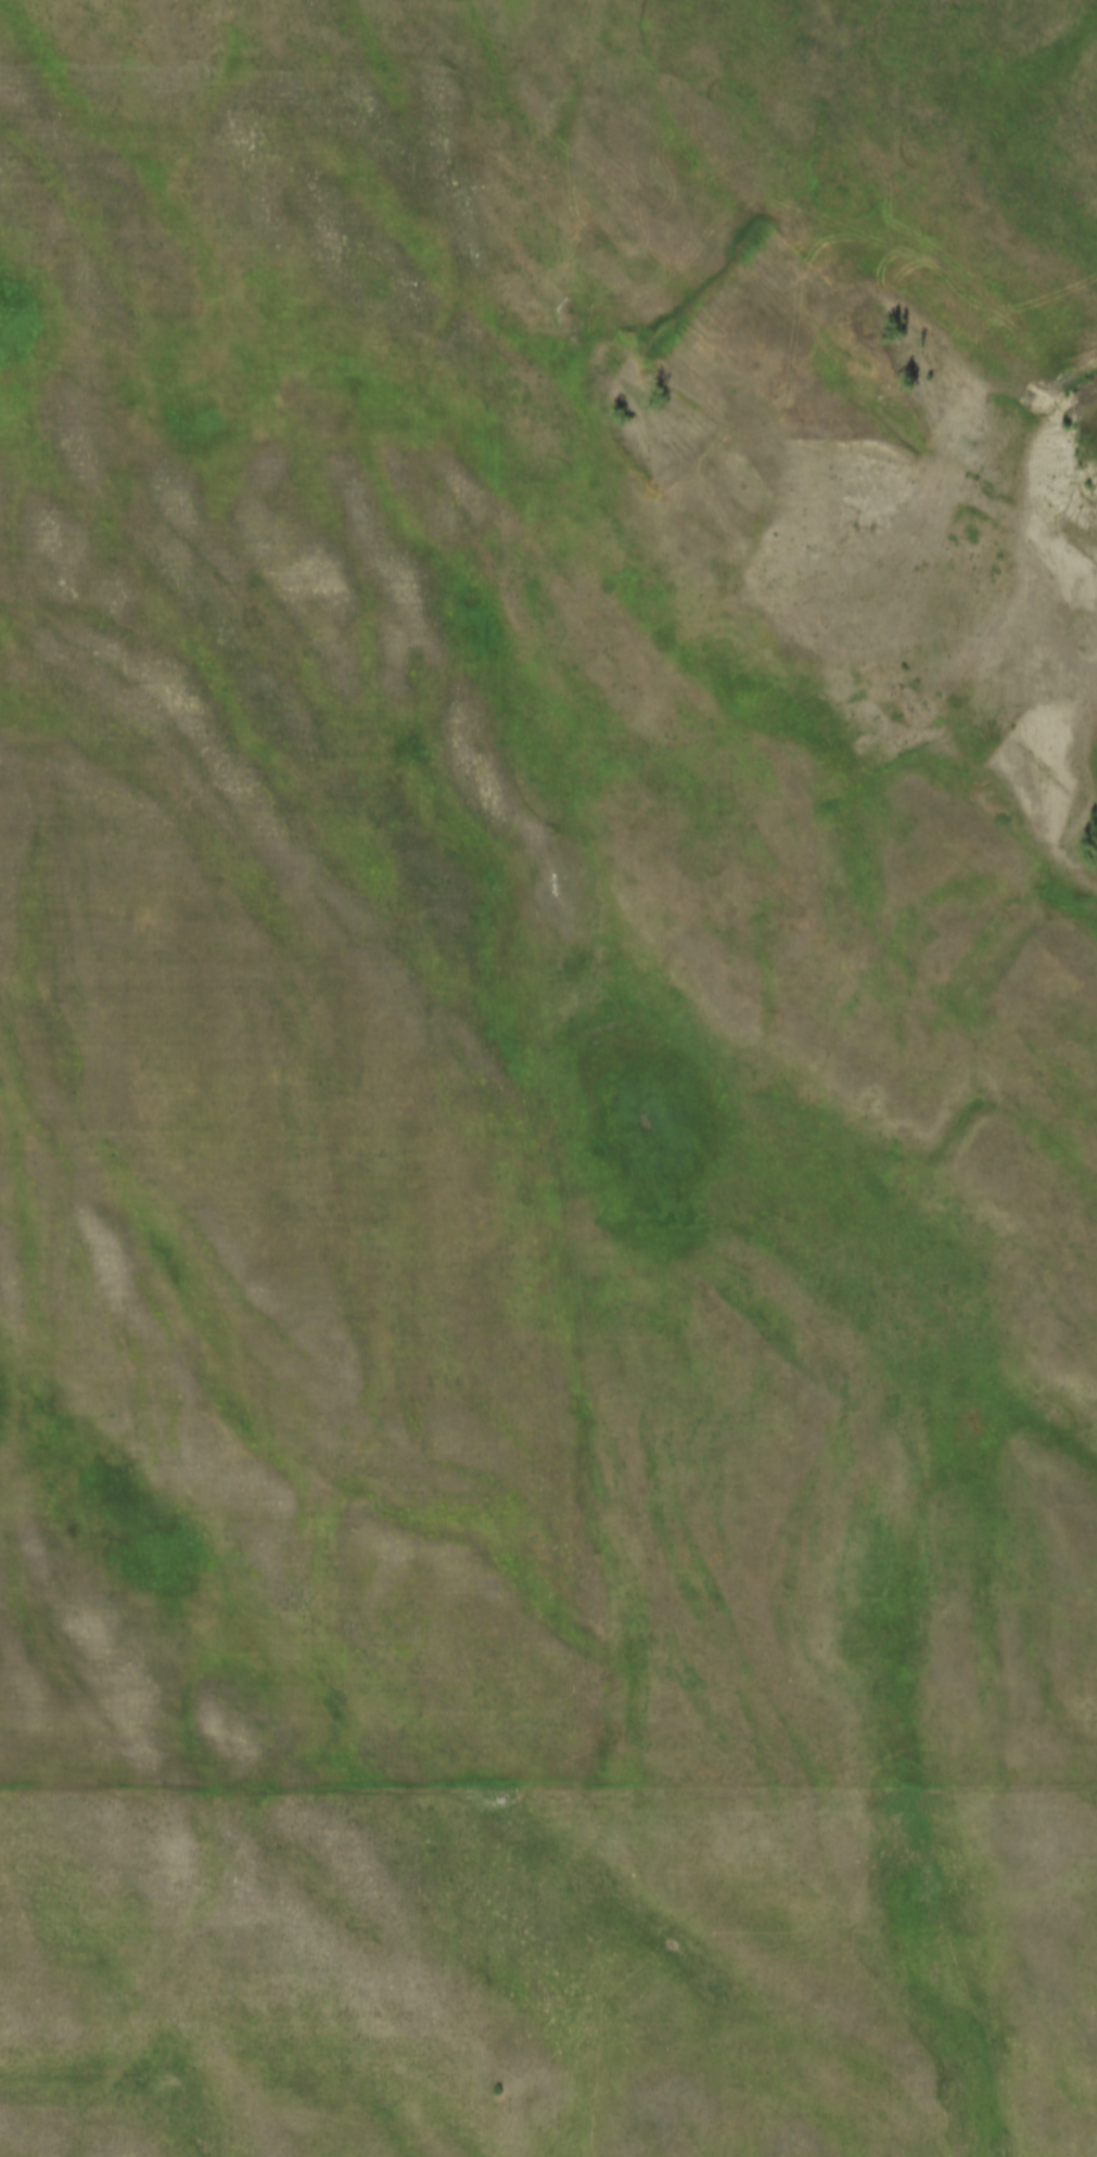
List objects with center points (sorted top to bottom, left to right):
quarry: (889, 522)

